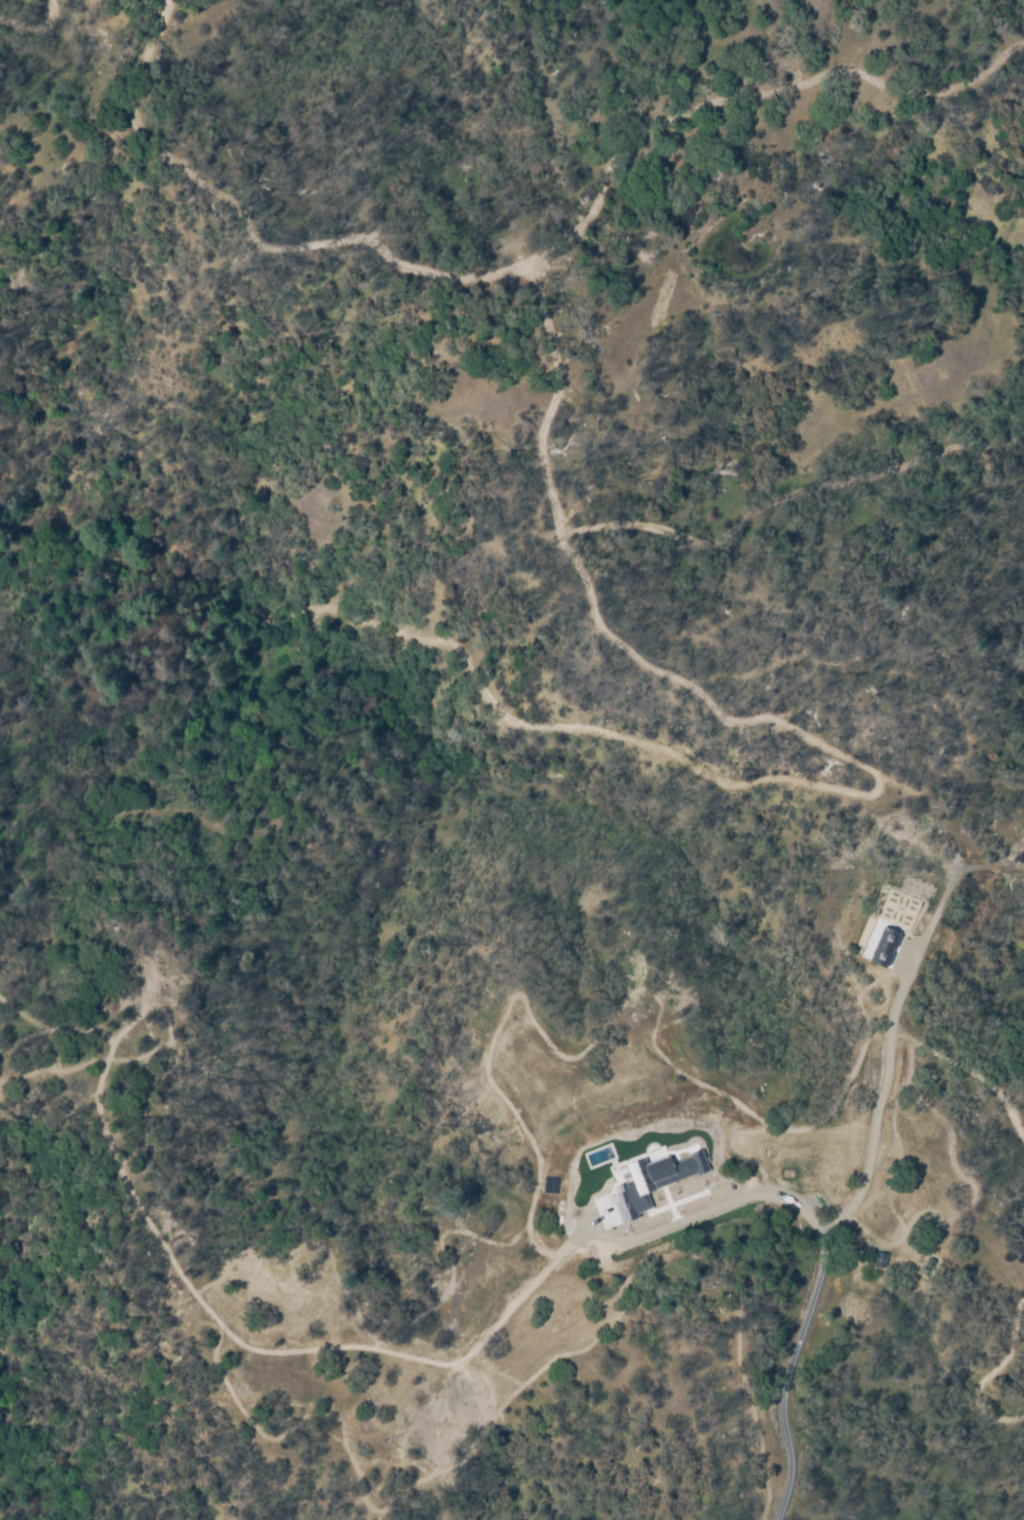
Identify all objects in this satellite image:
building: (882, 948)
building: (643, 1187)

